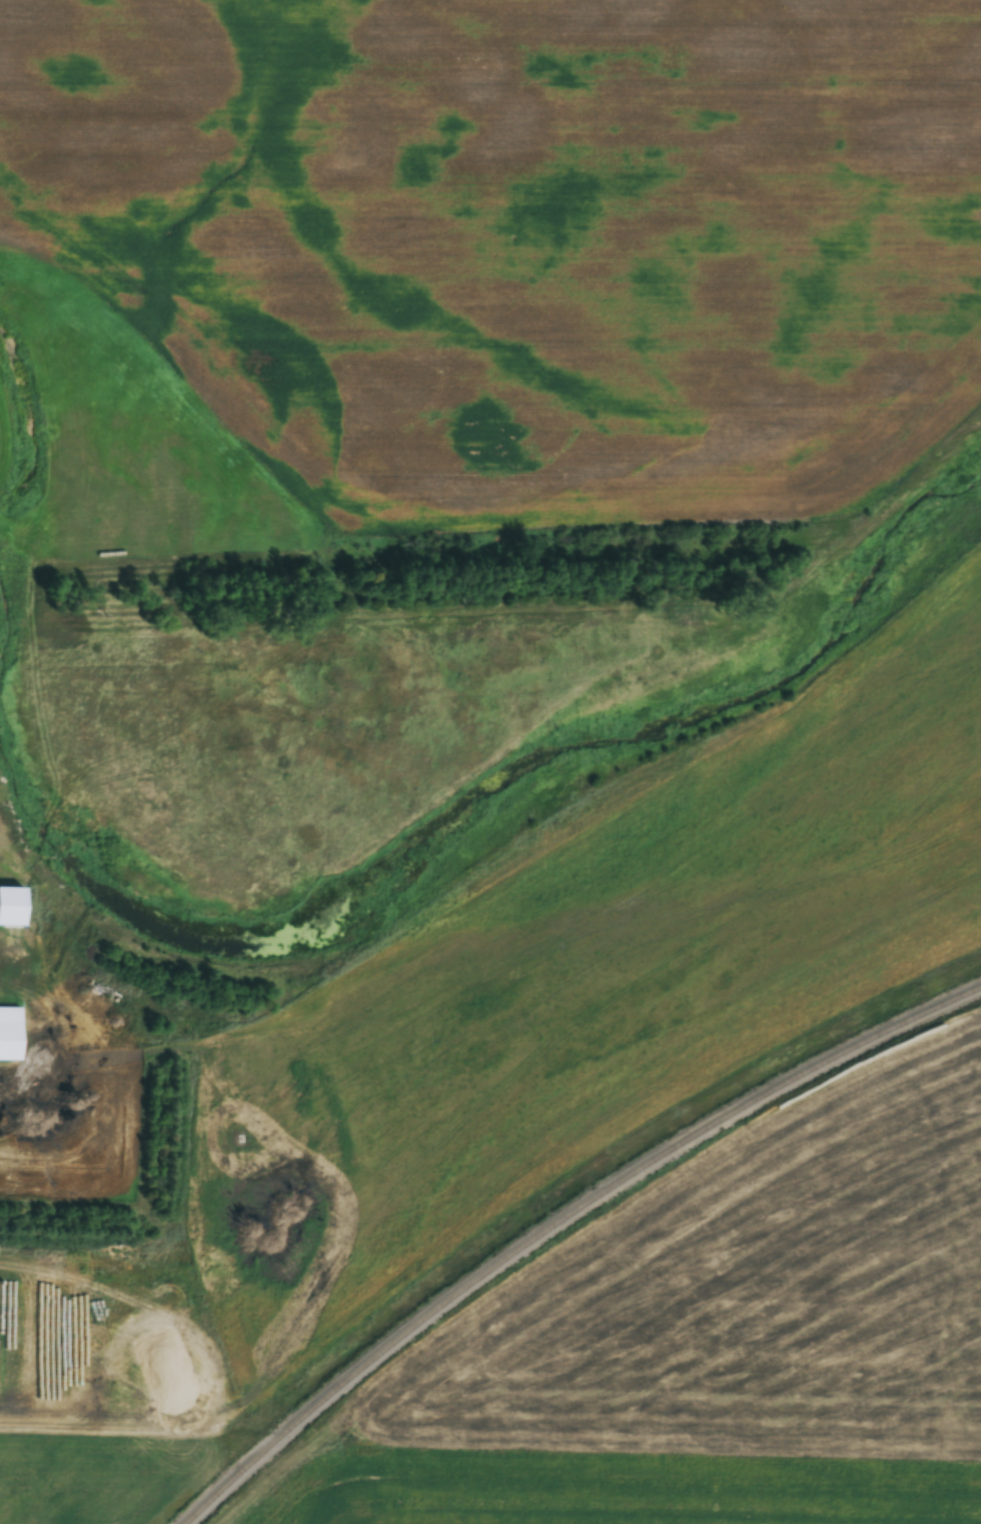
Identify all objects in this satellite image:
building: (12, 1033)
railway: (565, 1225)

